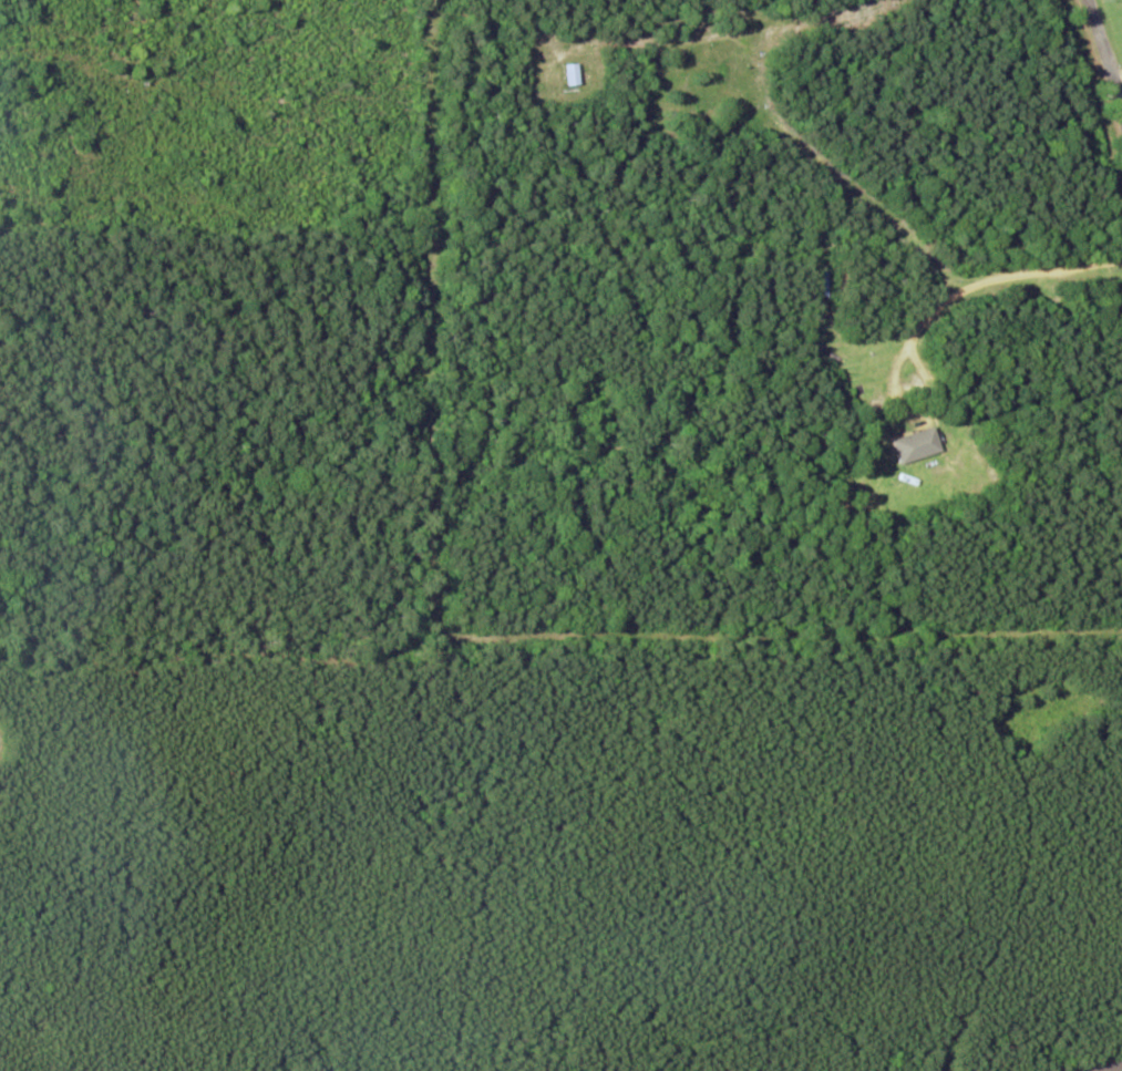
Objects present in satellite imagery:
road: (1106, 40)
building: (917, 445)

